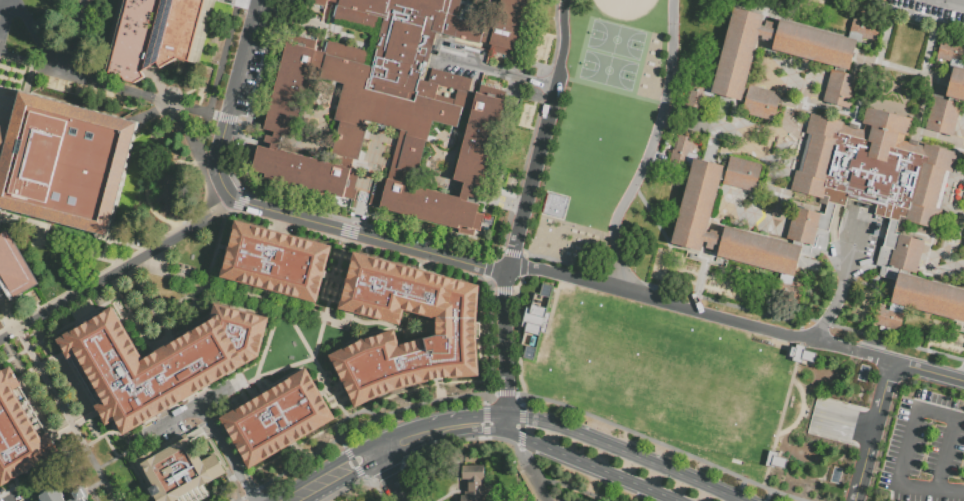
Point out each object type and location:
road: (876, 1)
road: (465, 3)
park: (624, 7)
parking lot: (928, 9)
road: (914, 13)
road: (5, 20)
building: (769, 29)
road: (36, 33)
road: (76, 35)
building: (156, 36)
park: (616, 39)
road: (563, 42)
building: (949, 50)
building: (823, 55)
road: (28, 58)
building: (738, 68)
road: (902, 68)
road: (501, 69)
park: (608, 70)
road: (141, 90)
road: (612, 90)
street lamp: (540, 94)
road: (230, 98)
building: (946, 102)
building: (394, 104)
road: (18, 107)
road: (458, 120)
road: (190, 137)
road: (378, 139)
road: (429, 139)
road: (455, 141)
road: (651, 149)
road: (397, 150)
road: (385, 161)
building: (65, 166)
building: (875, 166)
road: (425, 172)
road: (440, 174)
road: (533, 177)
road: (370, 181)
road: (465, 191)
road: (465, 191)
road: (466, 191)
road: (479, 194)
building: (710, 194)
road: (484, 197)
road: (231, 198)
road: (361, 203)
road: (507, 203)
road: (235, 205)
road: (371, 236)
road: (666, 237)
building: (713, 238)
building: (963, 244)
parking lot: (859, 247)
building: (773, 250)
building: (277, 263)
building: (13, 268)
road: (173, 270)
road: (116, 273)
road: (204, 283)
building: (914, 287)
road: (659, 300)
road: (725, 303)
road: (872, 307)
road: (834, 312)
building: (534, 320)
road: (272, 326)
road: (846, 327)
building: (454, 331)
road: (318, 332)
road: (157, 342)
road: (914, 346)
road: (851, 349)
road: (506, 350)
building: (801, 353)
building: (163, 365)
road: (283, 366)
road: (927, 371)
parking lot: (686, 378)
road: (885, 380)
road: (504, 393)
road: (482, 399)
road: (522, 400)
road: (421, 403)
road: (914, 411)
road: (483, 413)
road: (66, 415)
road: (521, 415)
road: (877, 415)
road: (189, 416)
road: (468, 417)
building: (278, 420)
road: (484, 423)
road: (842, 423)
road: (520, 427)
road: (484, 430)
building: (17, 437)
road: (484, 437)
road: (508, 437)
road: (520, 437)
road: (341, 442)
road: (452, 442)
road: (514, 443)
road: (659, 444)
parking lot: (923, 449)
road: (403, 450)
road: (868, 451)
road: (124, 453)
road: (346, 453)
road: (624, 453)
road: (346, 454)
road: (230, 455)
road: (304, 457)
building: (775, 460)
road: (352, 462)
road: (526, 464)
road: (591, 465)
building: (180, 470)
road: (357, 471)
road: (386, 472)
road: (387, 472)
road: (361, 479)
road: (370, 481)
building: (473, 483)
road: (858, 486)
road: (344, 488)
road: (569, 488)
road: (250, 491)
road: (949, 491)
road: (541, 492)
building: (52, 495)
road: (768, 495)
building: (76, 498)
road: (239, 498)

